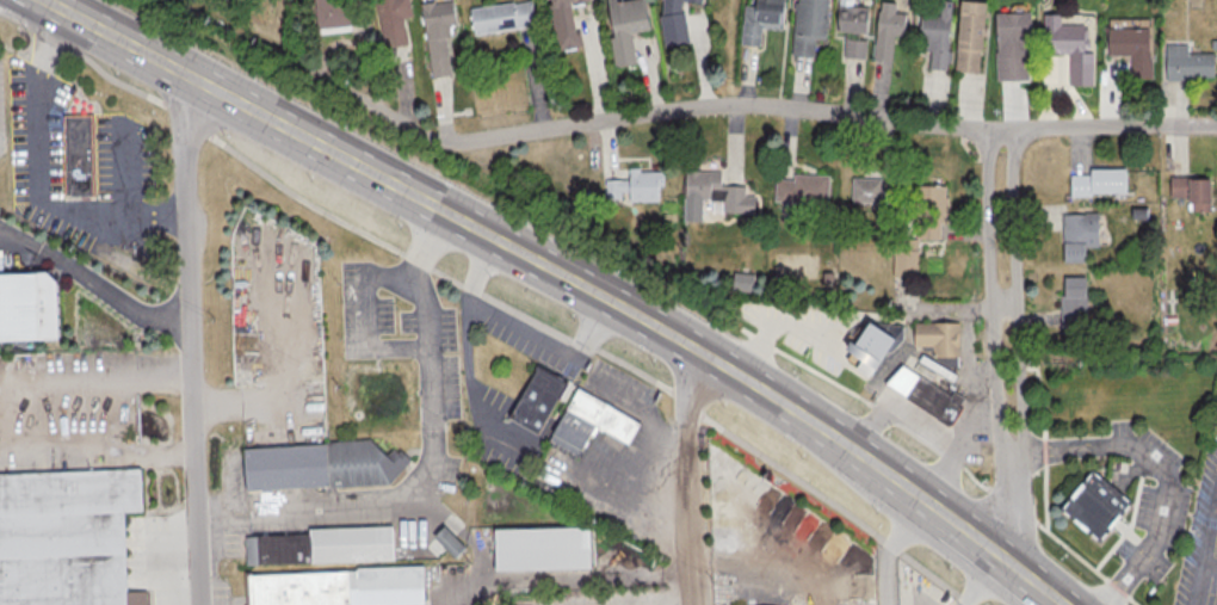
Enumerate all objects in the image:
building: (333, 16)
building: (501, 17)
building: (438, 19)
building: (759, 19)
building: (391, 20)
building: (672, 23)
building: (562, 24)
building: (808, 25)
building: (624, 27)
building: (852, 30)
building: (887, 30)
building: (935, 36)
building: (968, 36)
building: (1065, 45)
building: (1012, 47)
building: (1131, 49)
building: (1186, 63)
road: (752, 106)
building: (75, 154)
road: (36, 180)
building: (1096, 181)
building: (635, 186)
building: (801, 189)
building: (865, 190)
building: (716, 191)
building: (1190, 192)
building: (920, 229)
building: (1079, 234)
road: (504, 243)
road: (1012, 257)
road: (94, 283)
building: (1073, 301)
building: (25, 305)
road: (369, 321)
road: (981, 322)
road: (521, 327)
building: (937, 337)
road: (193, 340)
building: (866, 345)
building: (922, 394)
building: (535, 401)
building: (589, 422)
road: (521, 455)
road: (428, 459)
building: (316, 465)
road: (1159, 470)
road: (1011, 474)
road: (688, 480)
building: (1093, 505)
road: (903, 529)
road: (1210, 530)
building: (64, 537)
building: (447, 542)
building: (321, 547)
building: (539, 548)
road: (1006, 561)
road: (1210, 562)
road: (884, 581)
road: (981, 581)
road: (1197, 582)
building: (327, 585)
road: (1055, 603)

